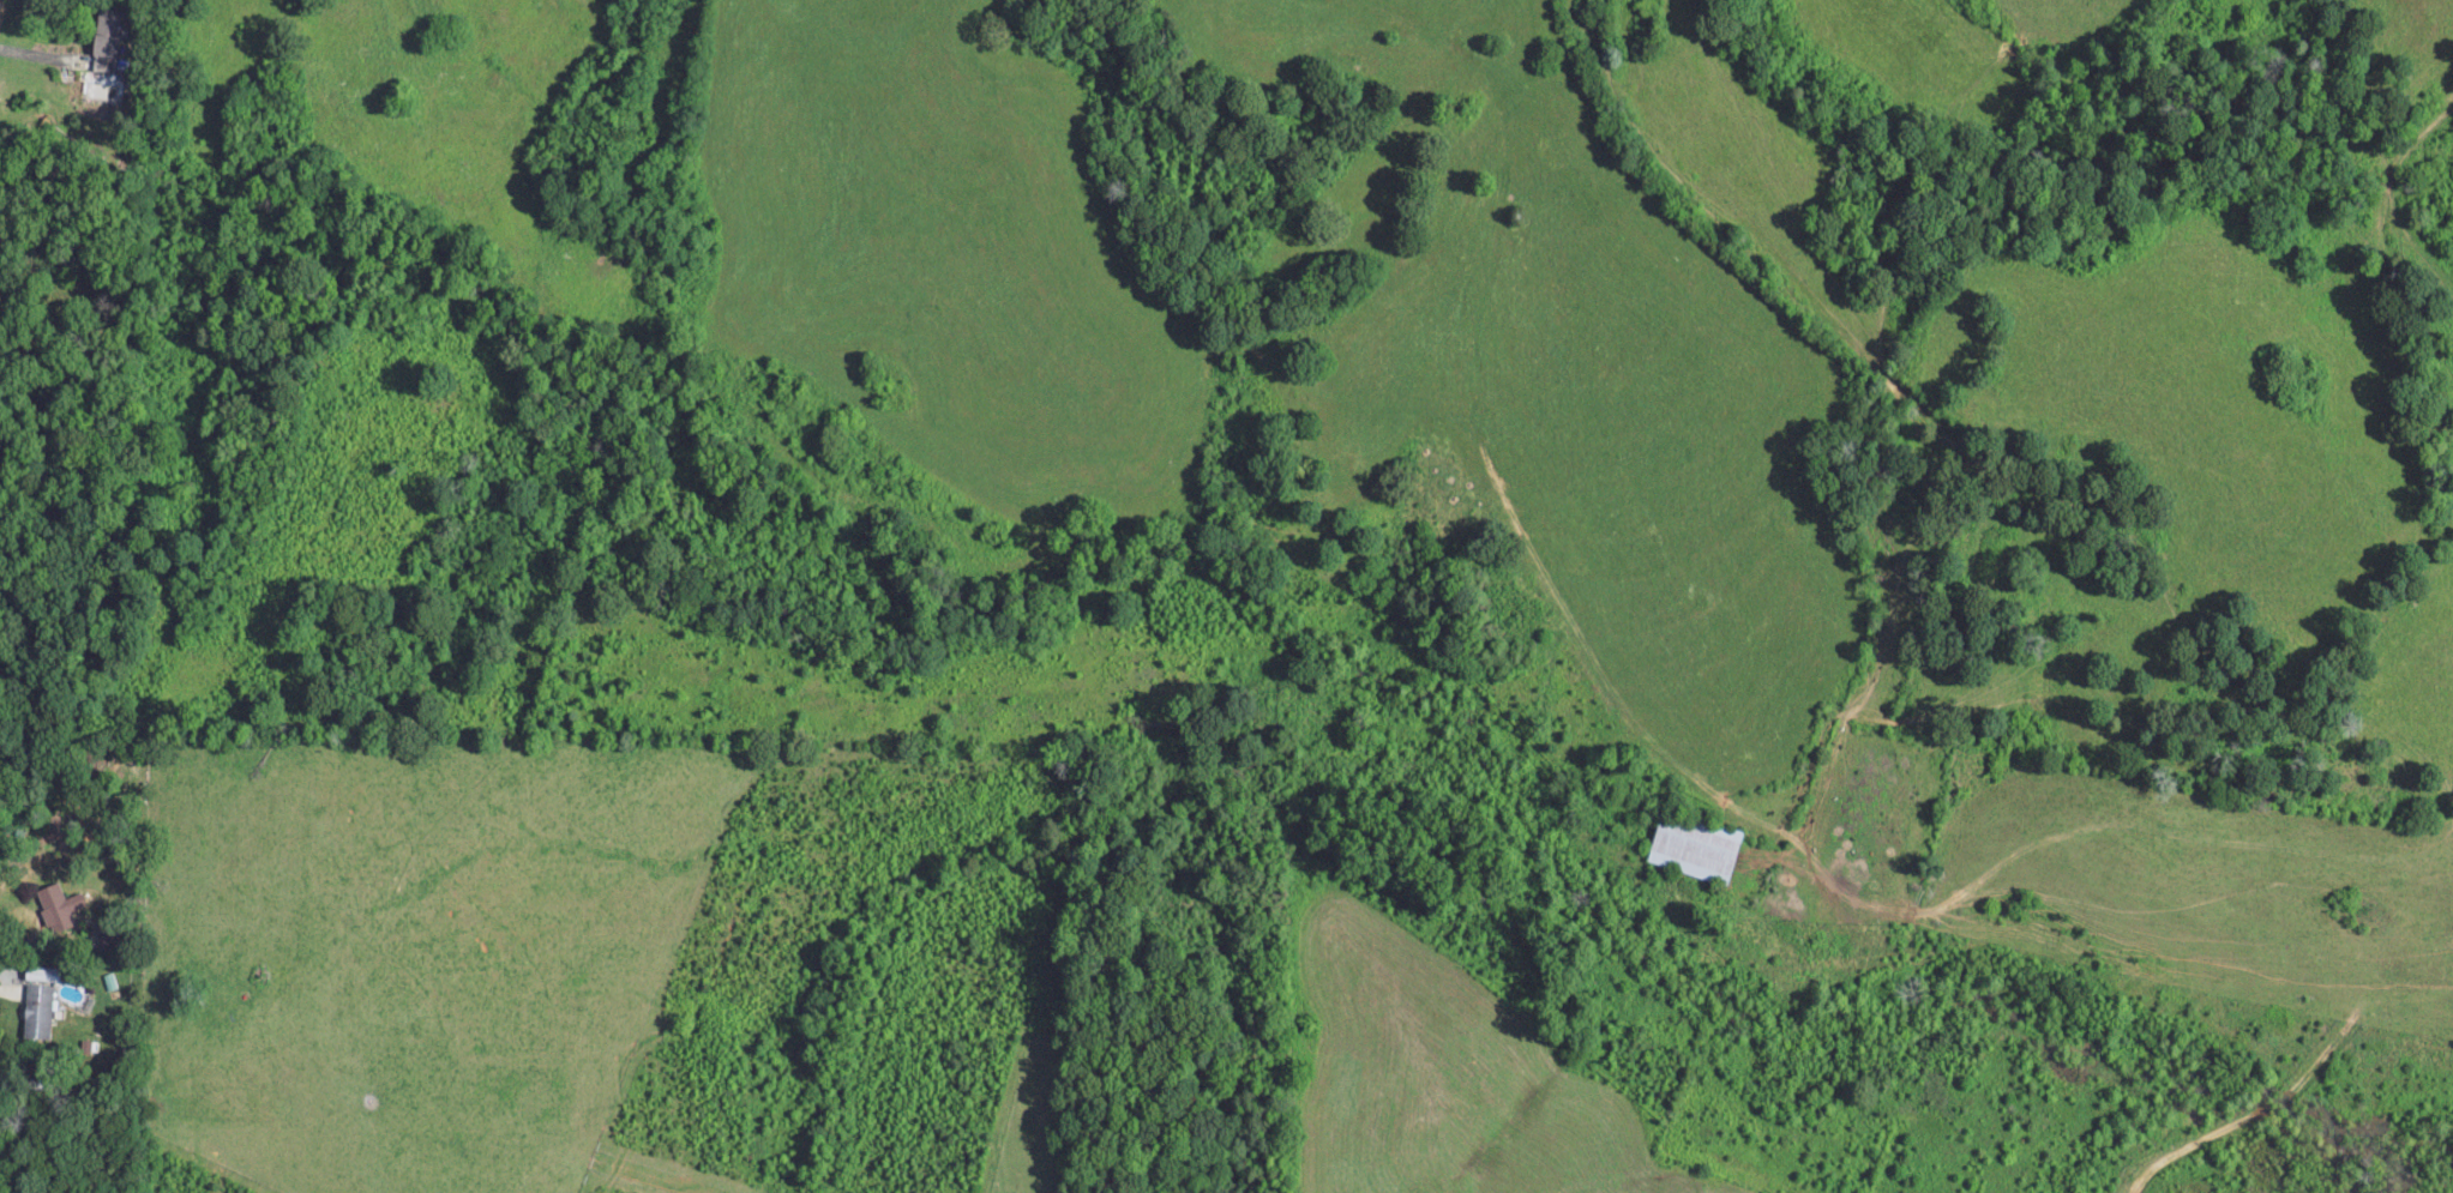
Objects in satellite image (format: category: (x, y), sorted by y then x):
building: (104, 38)
road: (38, 54)
building: (1693, 849)
building: (55, 905)
building: (37, 1007)

